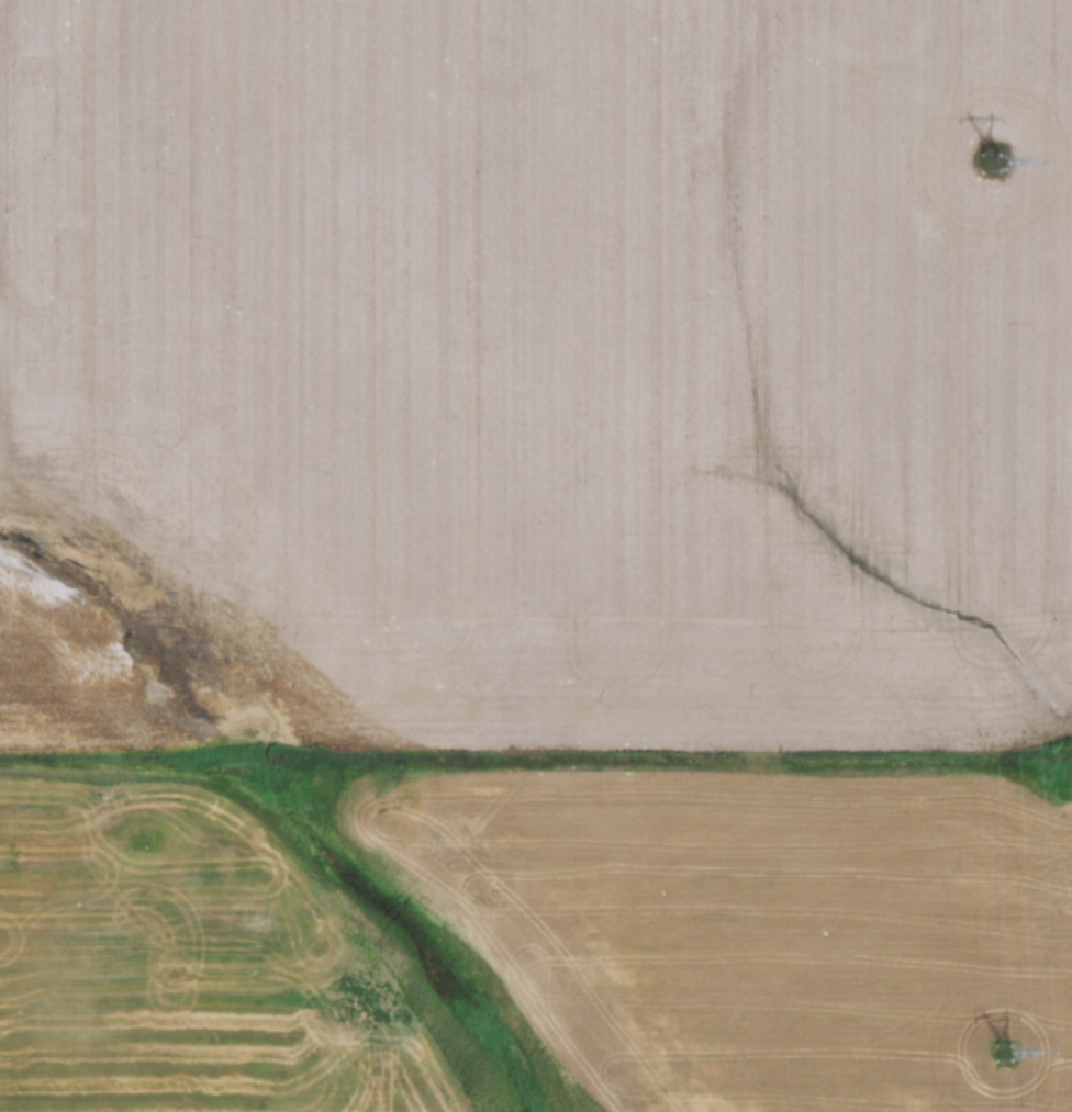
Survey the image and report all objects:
power tower: (987, 164)
power tower: (1000, 1053)

